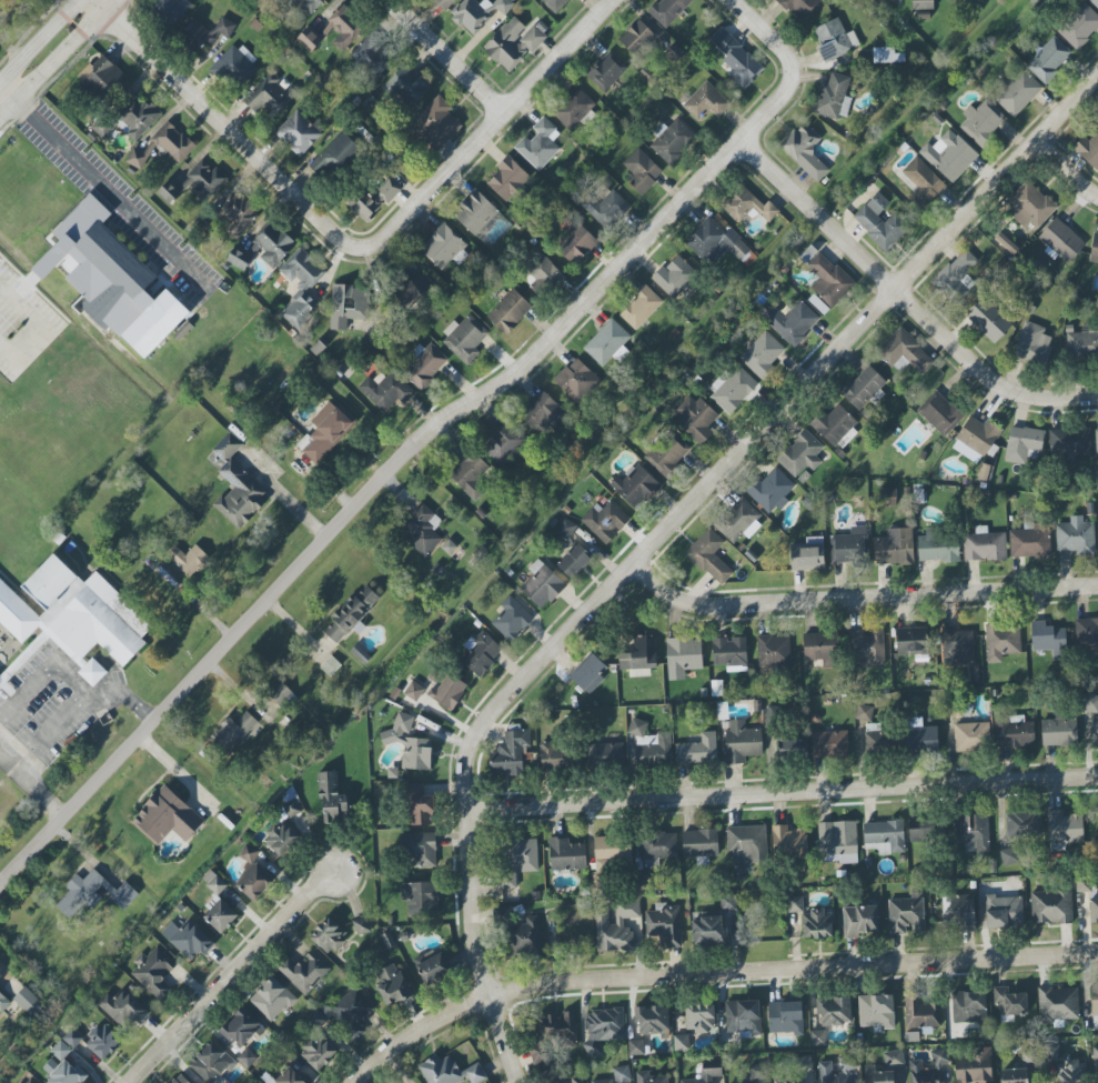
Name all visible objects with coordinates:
building: (897, 0)
building: (1094, 2)
building: (442, 3)
building: (311, 4)
building: (554, 4)
building: (921, 4)
building: (503, 6)
building: (798, 7)
building: (171, 9)
building: (667, 10)
building: (471, 14)
building: (1079, 26)
building: (224, 27)
building: (344, 27)
building: (194, 34)
building: (636, 37)
road: (38, 39)
building: (308, 39)
building: (834, 39)
building: (512, 43)
building: (886, 56)
road: (444, 57)
road: (57, 58)
building: (371, 58)
building: (736, 59)
building: (1048, 59)
road: (790, 67)
building: (234, 68)
building: (606, 71)
building: (102, 78)
building: (406, 86)
building: (1016, 92)
road: (8, 93)
building: (268, 96)
building: (833, 97)
building: (705, 100)
building: (572, 107)
building: (137, 119)
building: (981, 121)
building: (436, 123)
road: (222, 124)
road: (486, 130)
building: (298, 132)
building: (672, 140)
building: (540, 144)
building: (162, 147)
building: (1088, 150)
building: (804, 151)
building: (336, 156)
building: (948, 156)
road: (1066, 169)
building: (641, 171)
building: (507, 179)
road: (98, 183)
building: (194, 183)
building: (923, 183)
building: (371, 199)
building: (1029, 204)
building: (747, 205)
building: (605, 209)
building: (474, 212)
building: (239, 214)
building: (880, 222)
building: (1060, 240)
building: (575, 243)
building: (718, 243)
building: (273, 244)
building: (442, 247)
building: (1094, 249)
building: (238, 259)
building: (542, 272)
building: (674, 275)
building: (956, 278)
building: (110, 279)
building: (825, 281)
building: (301, 287)
building: (412, 289)
road: (904, 299)
building: (349, 304)
building: (639, 308)
building: (508, 311)
building: (988, 319)
building: (790, 321)
road: (37, 331)
building: (464, 338)
building: (1082, 342)
building: (608, 343)
building: (1032, 343)
building: (904, 352)
building: (762, 354)
building: (424, 363)
building: (577, 381)
building: (732, 388)
building: (863, 388)
building: (545, 412)
building: (939, 413)
building: (694, 418)
building: (832, 423)
building: (325, 432)
building: (977, 437)
building: (1096, 441)
building: (504, 443)
building: (1023, 443)
building: (1069, 443)
building: (800, 453)
building: (667, 454)
building: (470, 473)
building: (236, 487)
building: (635, 487)
building: (770, 490)
building: (887, 497)
road: (360, 502)
building: (736, 520)
building: (605, 521)
building: (565, 529)
building: (421, 530)
road: (662, 535)
building: (1076, 537)
building: (1029, 542)
building: (984, 545)
building: (447, 546)
building: (938, 546)
building: (850, 548)
building: (894, 548)
building: (809, 555)
building: (709, 556)
building: (188, 559)
building: (574, 560)
building: (542, 584)
road: (859, 599)
building: (351, 613)
building: (72, 615)
building: (511, 619)
building: (1087, 633)
building: (1048, 640)
building: (910, 641)
building: (1001, 641)
building: (956, 645)
building: (822, 648)
building: (866, 648)
building: (773, 651)
building: (480, 652)
building: (360, 653)
building: (729, 653)
building: (637, 656)
building: (683, 656)
building: (330, 665)
building: (92, 672)
building: (588, 673)
building: (3, 679)
road: (79, 690)
building: (413, 691)
building: (447, 692)
road: (123, 694)
building: (282, 695)
building: (1090, 703)
building: (864, 712)
building: (1013, 732)
building: (1058, 732)
building: (1095, 732)
building: (971, 736)
building: (226, 738)
building: (919, 738)
building: (876, 740)
building: (742, 742)
building: (409, 744)
building: (829, 744)
building: (649, 745)
building: (792, 749)
building: (697, 751)
building: (508, 752)
building: (554, 754)
building: (605, 754)
road: (32, 788)
road: (782, 792)
building: (332, 799)
building: (419, 805)
building: (291, 809)
building: (167, 816)
building: (1023, 824)
building: (1064, 828)
building: (923, 830)
building: (971, 831)
building: (282, 836)
building: (884, 836)
building: (789, 841)
building: (837, 842)
building: (699, 843)
building: (658, 845)
building: (746, 845)
building: (419, 848)
building: (612, 850)
building: (250, 854)
building: (522, 854)
building: (566, 854)
building: (1008, 856)
building: (507, 881)
building: (260, 883)
building: (218, 886)
building: (91, 894)
building: (420, 899)
building: (728, 903)
building: (795, 904)
building: (1050, 906)
building: (181, 909)
building: (1094, 910)
building: (1004, 912)
building: (958, 913)
building: (220, 914)
building: (906, 915)
building: (859, 921)
building: (664, 923)
building: (817, 923)
building: (361, 925)
building: (616, 925)
building: (707, 931)
building: (518, 932)
building: (329, 935)
building: (188, 939)
building: (433, 967)
building: (304, 971)
road: (713, 971)
building: (154, 972)
road: (231, 974)
building: (391, 984)
building: (2, 1000)
building: (272, 1000)
building: (1010, 1001)
building: (29, 1003)
building: (1057, 1005)
building: (1095, 1006)
building: (968, 1007)
building: (122, 1009)
building: (875, 1011)
building: (350, 1012)
building: (834, 1012)
building: (920, 1013)
building: (699, 1017)
building: (743, 1017)
building: (785, 1017)
building: (316, 1019)
building: (652, 1019)
building: (241, 1027)
building: (603, 1027)
building: (817, 1037)
building: (73, 1039)
building: (552, 1039)
building: (103, 1041)
building: (679, 1042)
building: (635, 1047)
building: (60, 1051)
building: (1049, 1051)
building: (316, 1053)
building: (246, 1057)
building: (1095, 1059)
building: (211, 1062)
building: (848, 1065)
building: (974, 1066)
building: (885, 1069)
building: (928, 1069)
building: (797, 1070)
building: (450, 1071)
building: (1071, 1072)
building: (756, 1073)
building: (67, 1074)
building: (616, 1075)
building: (1014, 1075)
building: (292, 1076)
building: (704, 1076)
building: (649, 1077)
building: (180, 1079)
building: (576, 1080)
building: (24, 1081)

